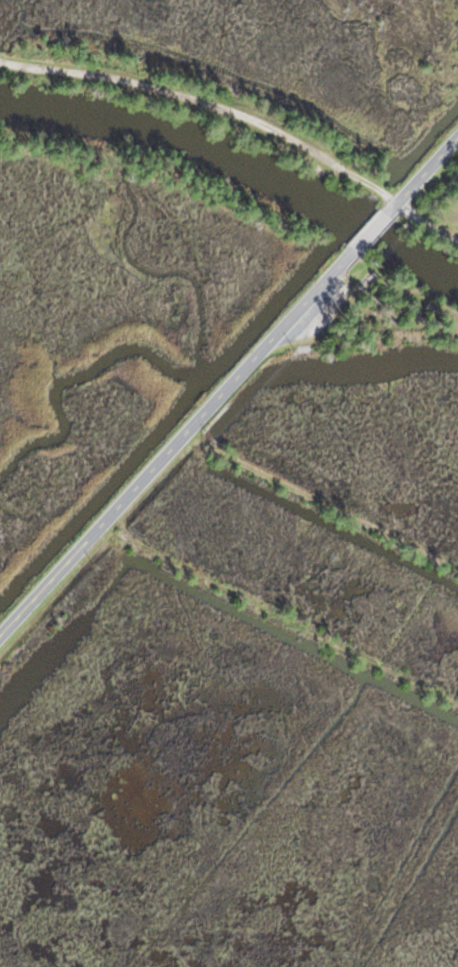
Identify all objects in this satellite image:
road: (209, 105)
road: (227, 385)
road: (289, 570)
road: (250, 679)

